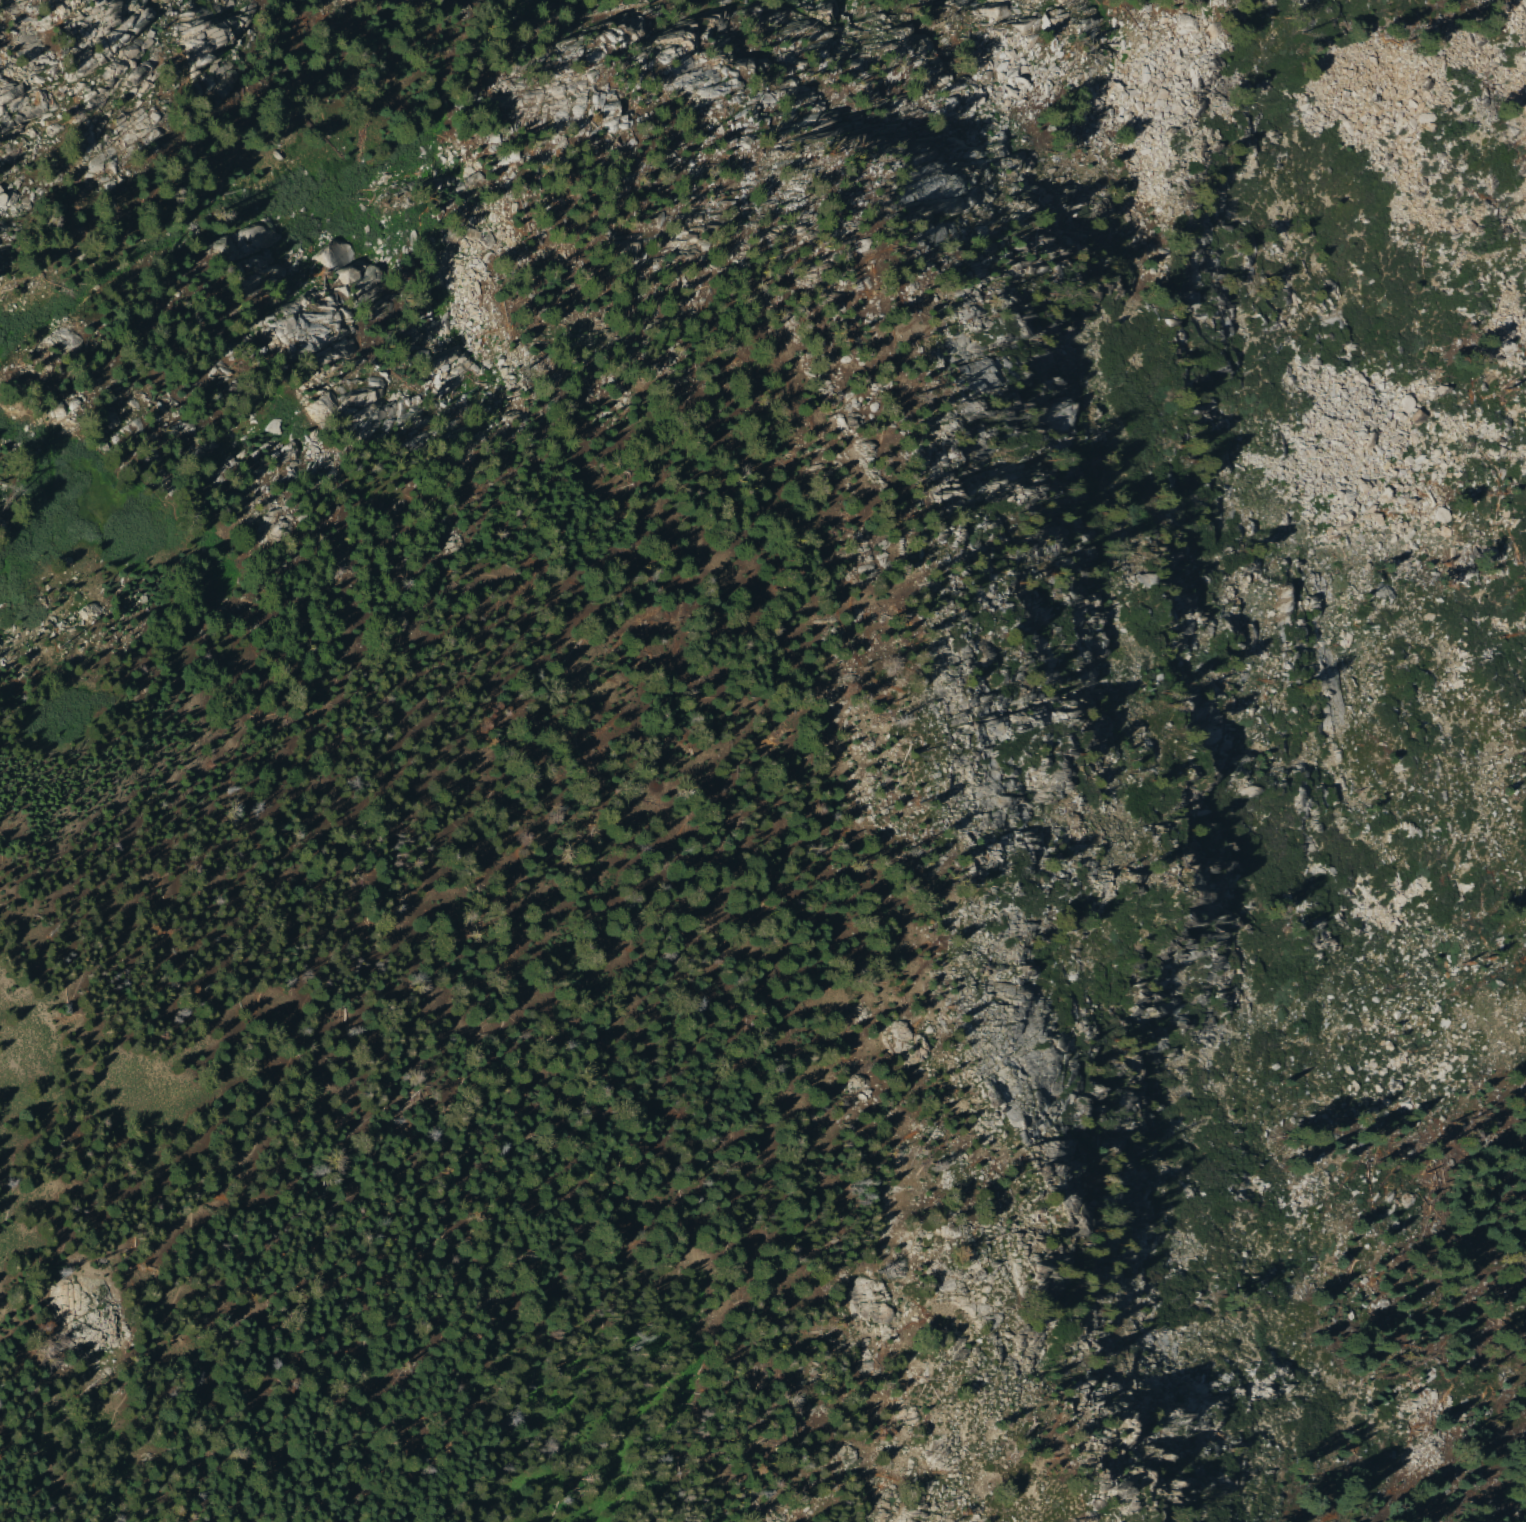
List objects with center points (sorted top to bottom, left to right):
road: (243, 92)
road: (440, 792)

